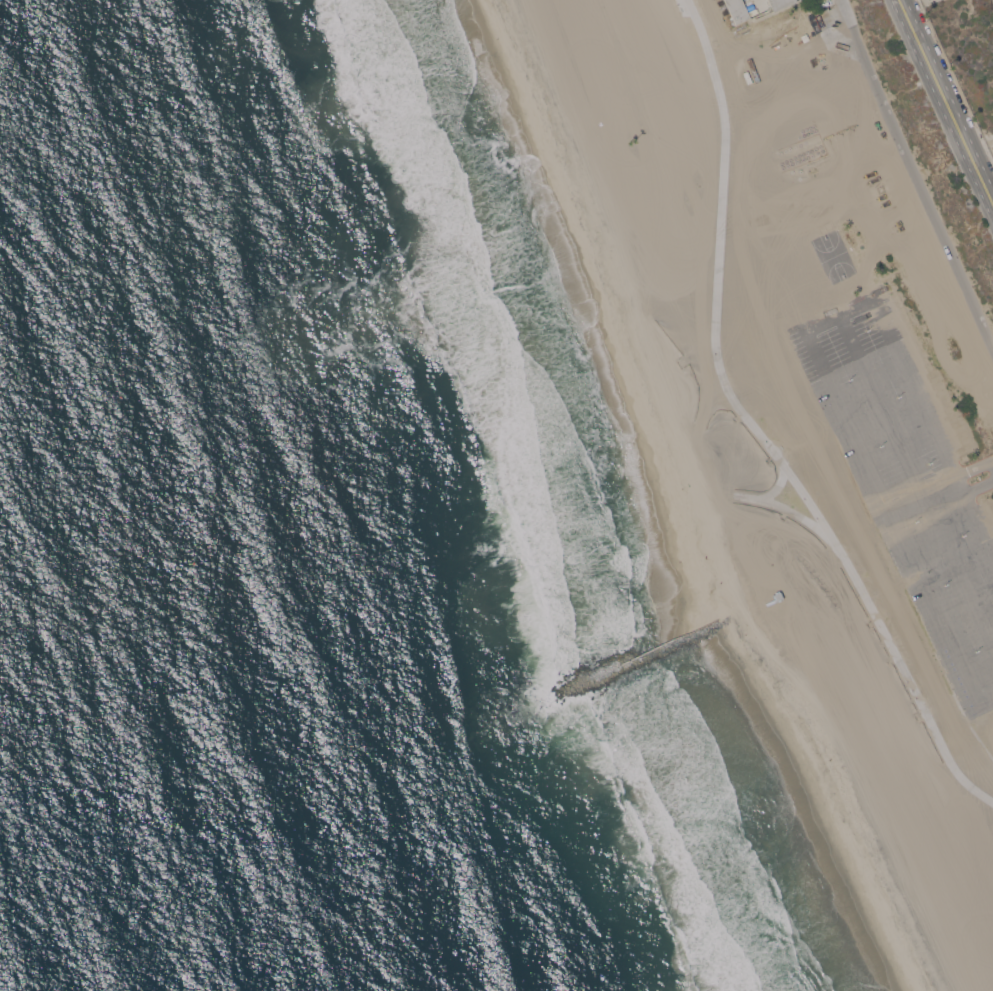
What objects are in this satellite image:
road: (896, 0)
road: (898, 0)
building: (779, 3)
building: (738, 10)
building: (807, 23)
road: (934, 79)
road: (981, 153)
road: (916, 173)
road: (982, 181)
park: (832, 258)
road: (839, 314)
road: (756, 428)
road: (933, 428)
road: (974, 468)
parking lot: (910, 480)
road: (914, 481)
road: (979, 487)
road: (925, 500)
road: (891, 516)
building: (797, 577)
road: (984, 699)
road: (981, 740)

